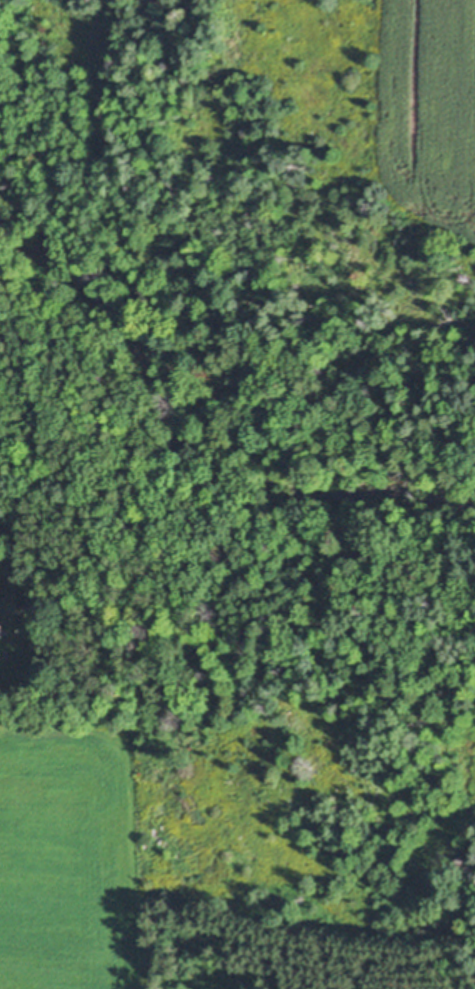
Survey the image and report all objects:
building: (2, 620)

